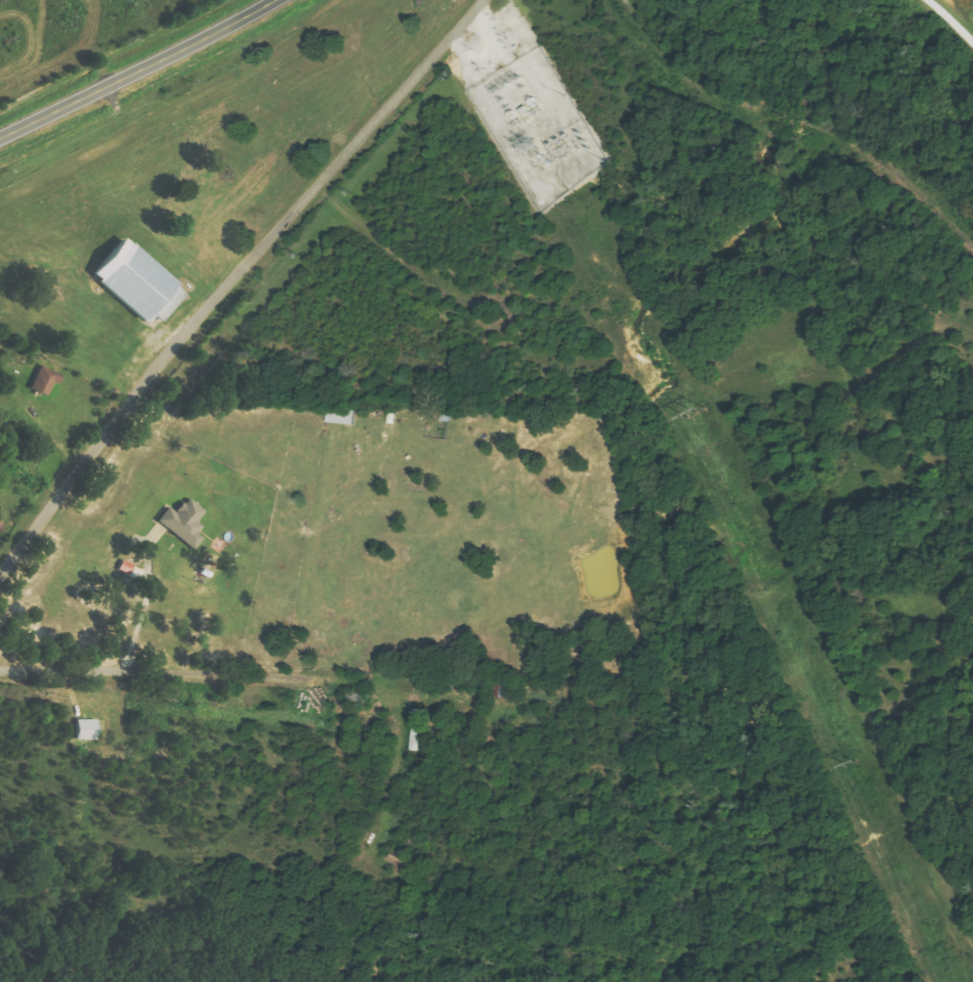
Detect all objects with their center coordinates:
road: (950, 22)
road: (139, 71)
road: (233, 279)
building: (141, 282)
building: (47, 381)
building: (180, 522)
building: (0, 523)
building: (122, 567)
road: (266, 672)
building: (83, 729)
building: (397, 857)

